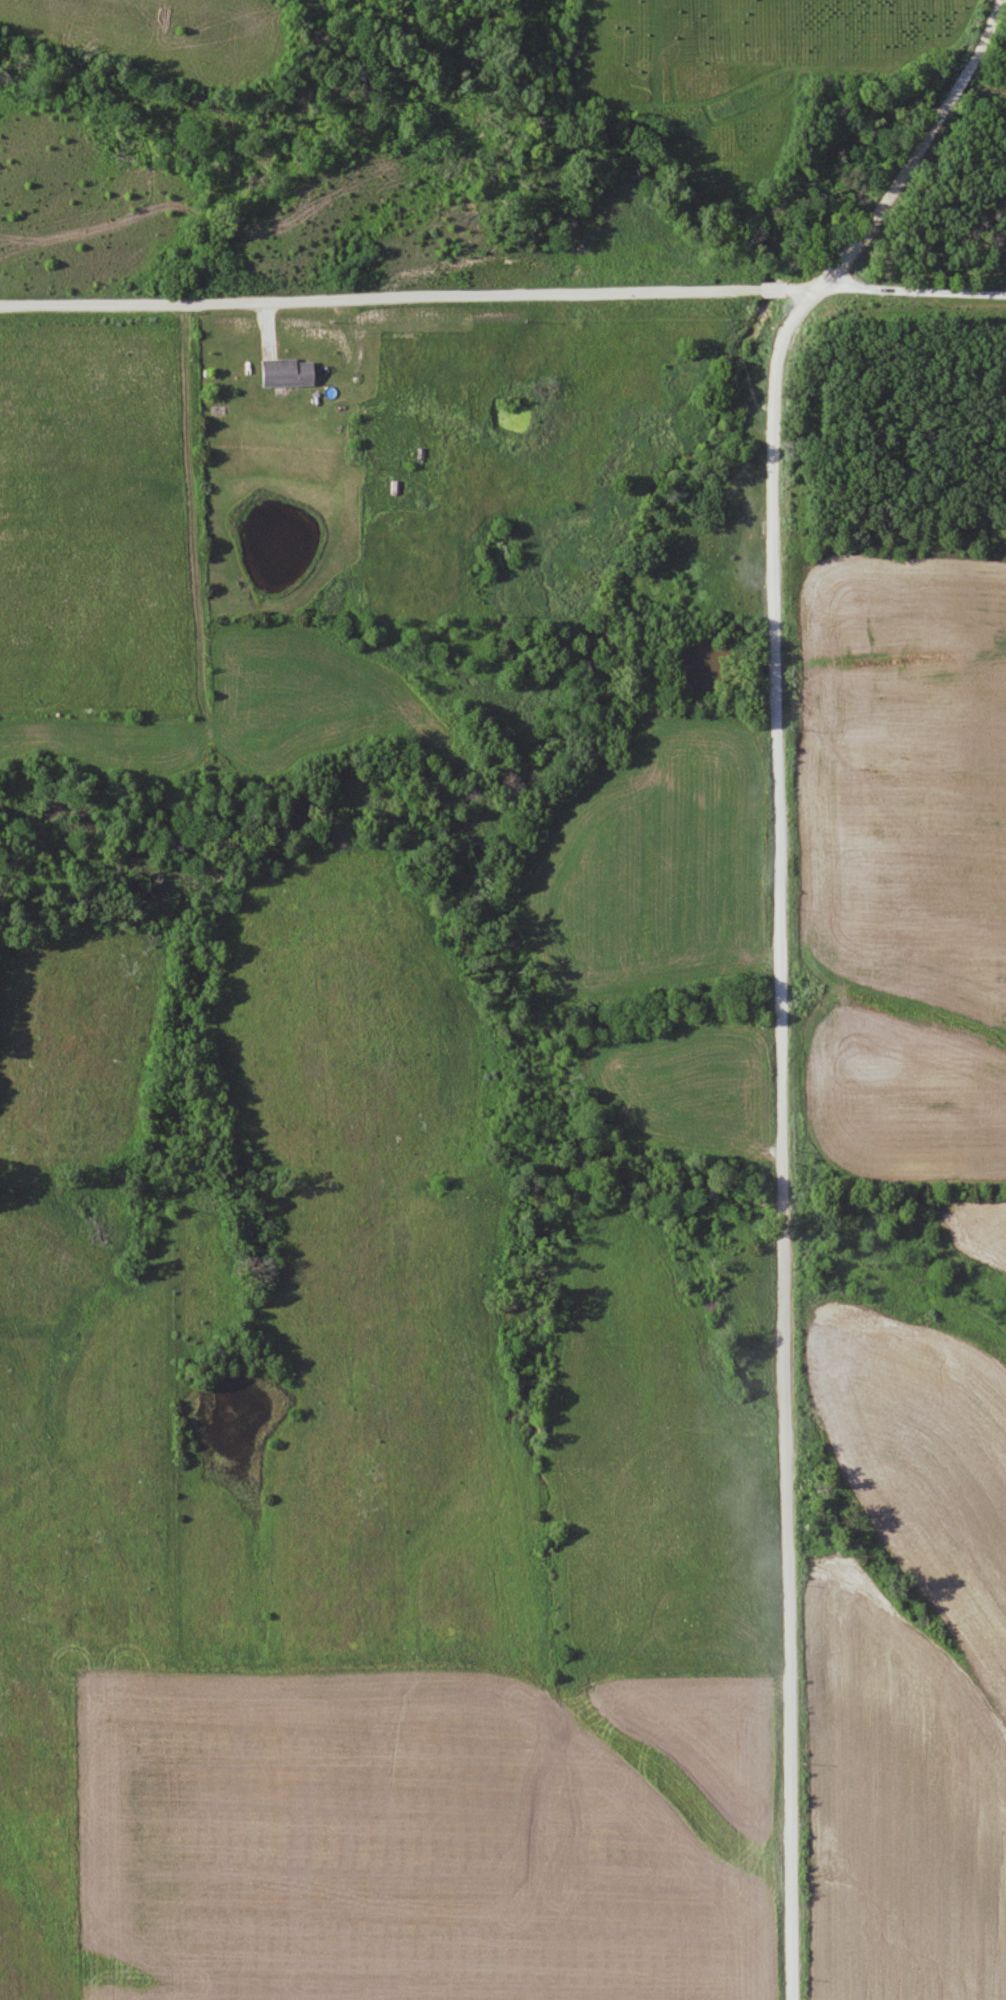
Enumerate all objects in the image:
road: (913, 293)
road: (411, 296)
building: (286, 374)
road: (779, 965)

